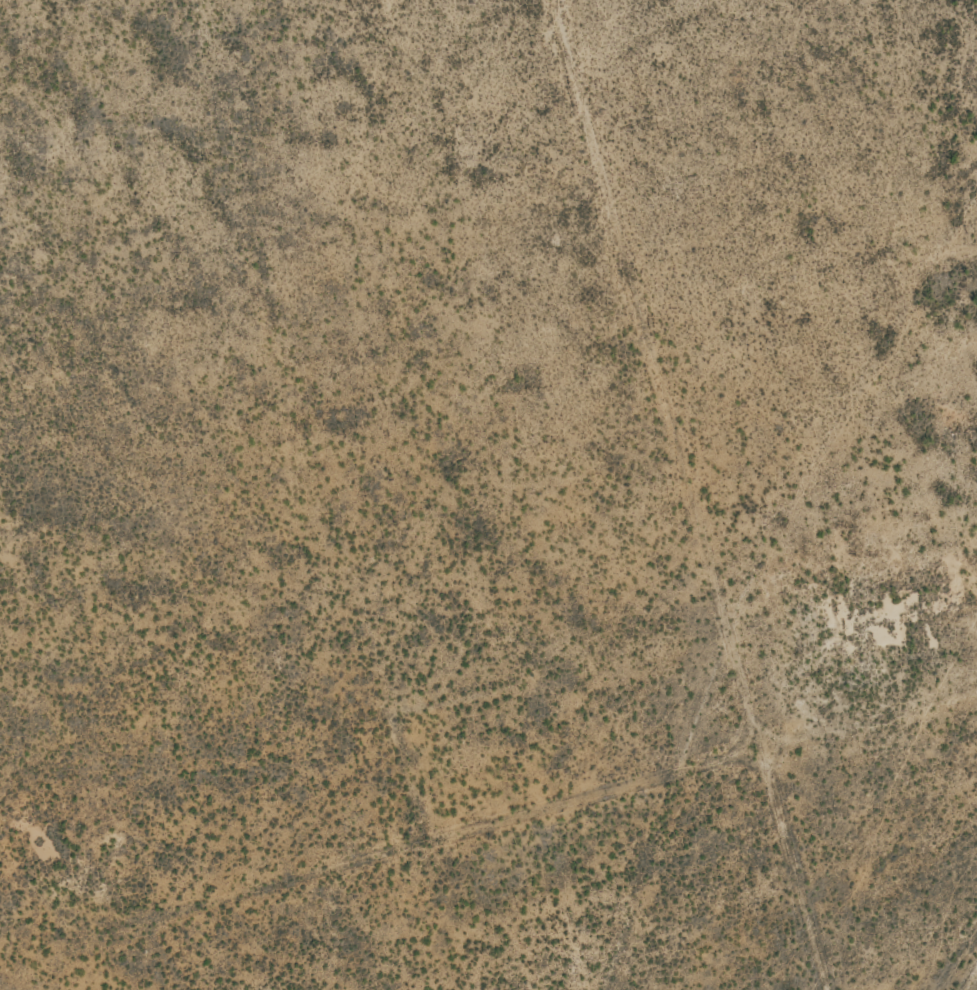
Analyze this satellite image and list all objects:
road: (640, 493)

